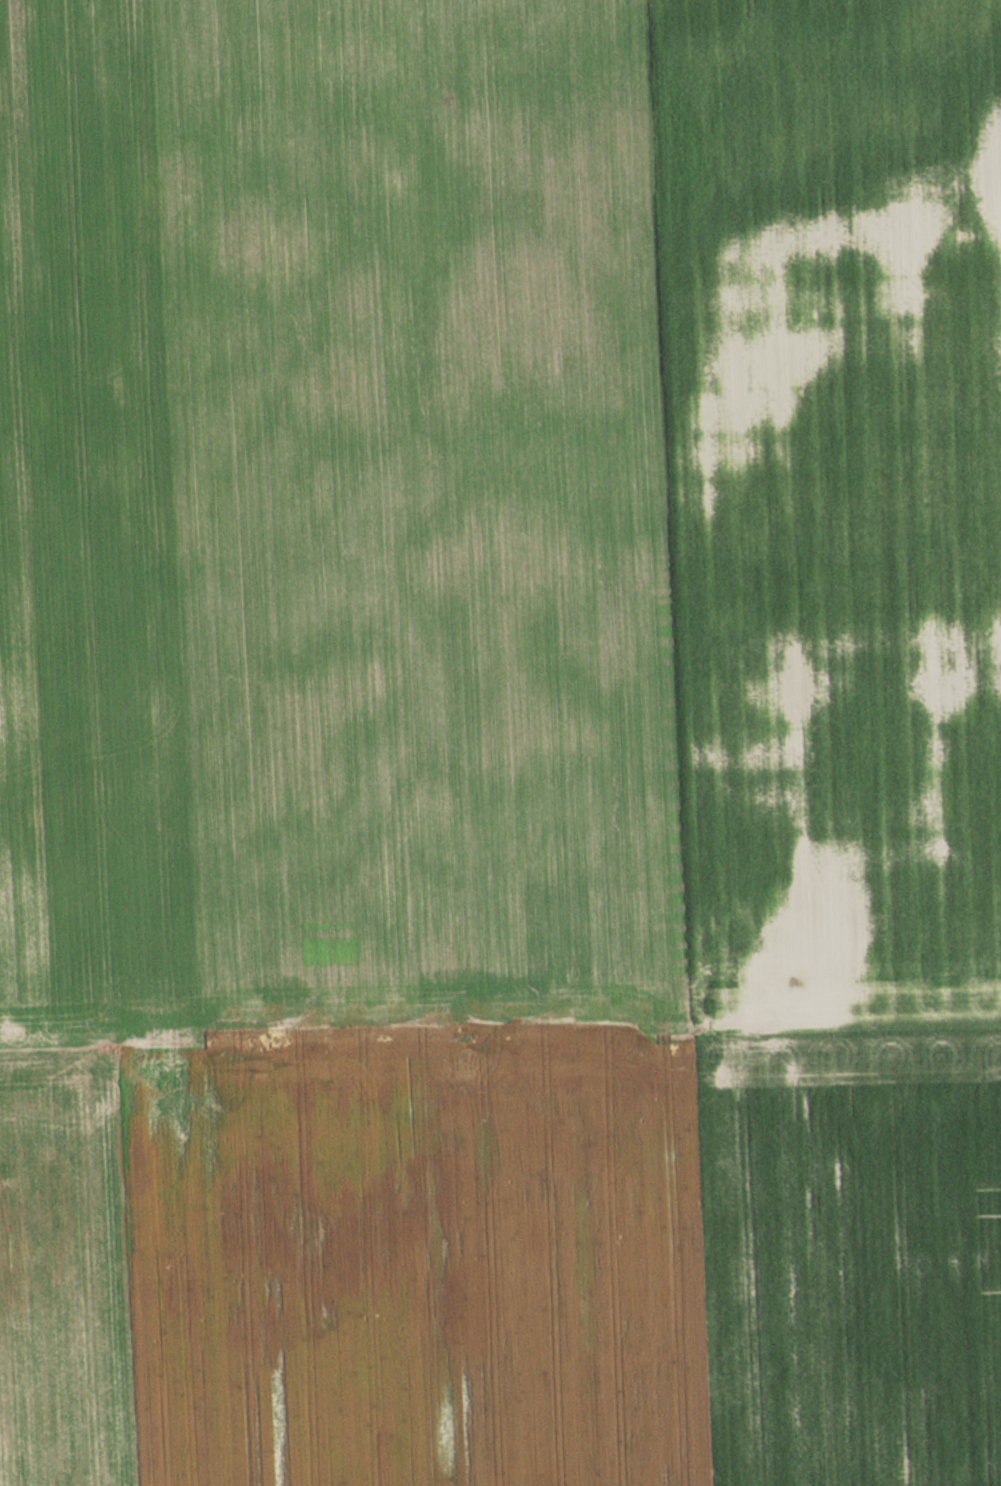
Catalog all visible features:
crop: (500, 743)

